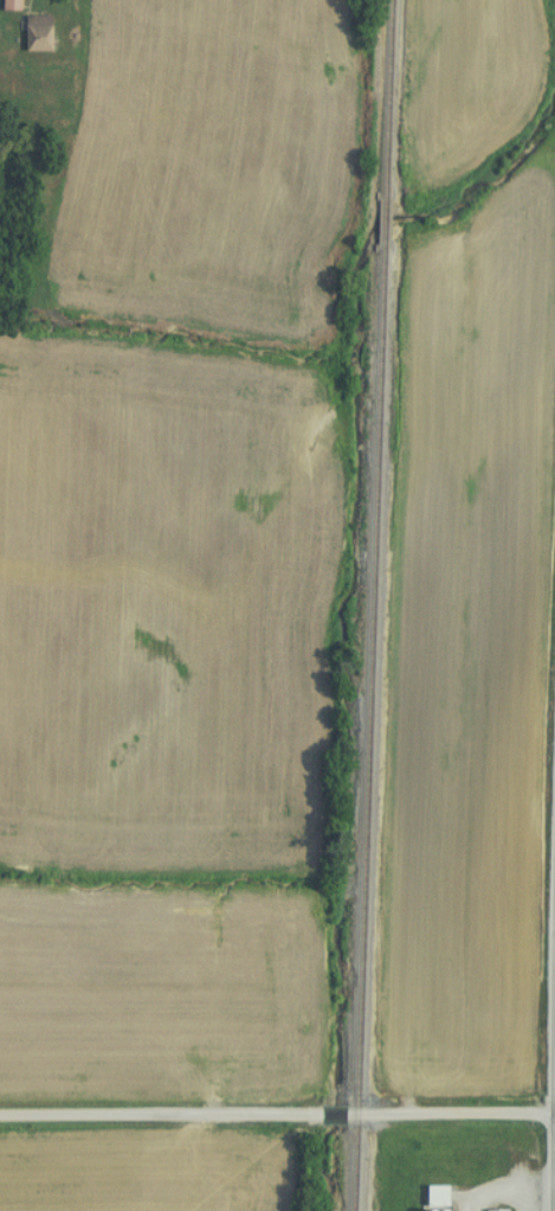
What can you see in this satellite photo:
building: (7, 5)
building: (28, 33)
railway: (380, 98)
railway: (377, 223)
railway: (363, 730)
road: (277, 1114)
building: (427, 1197)
building: (489, 1210)

